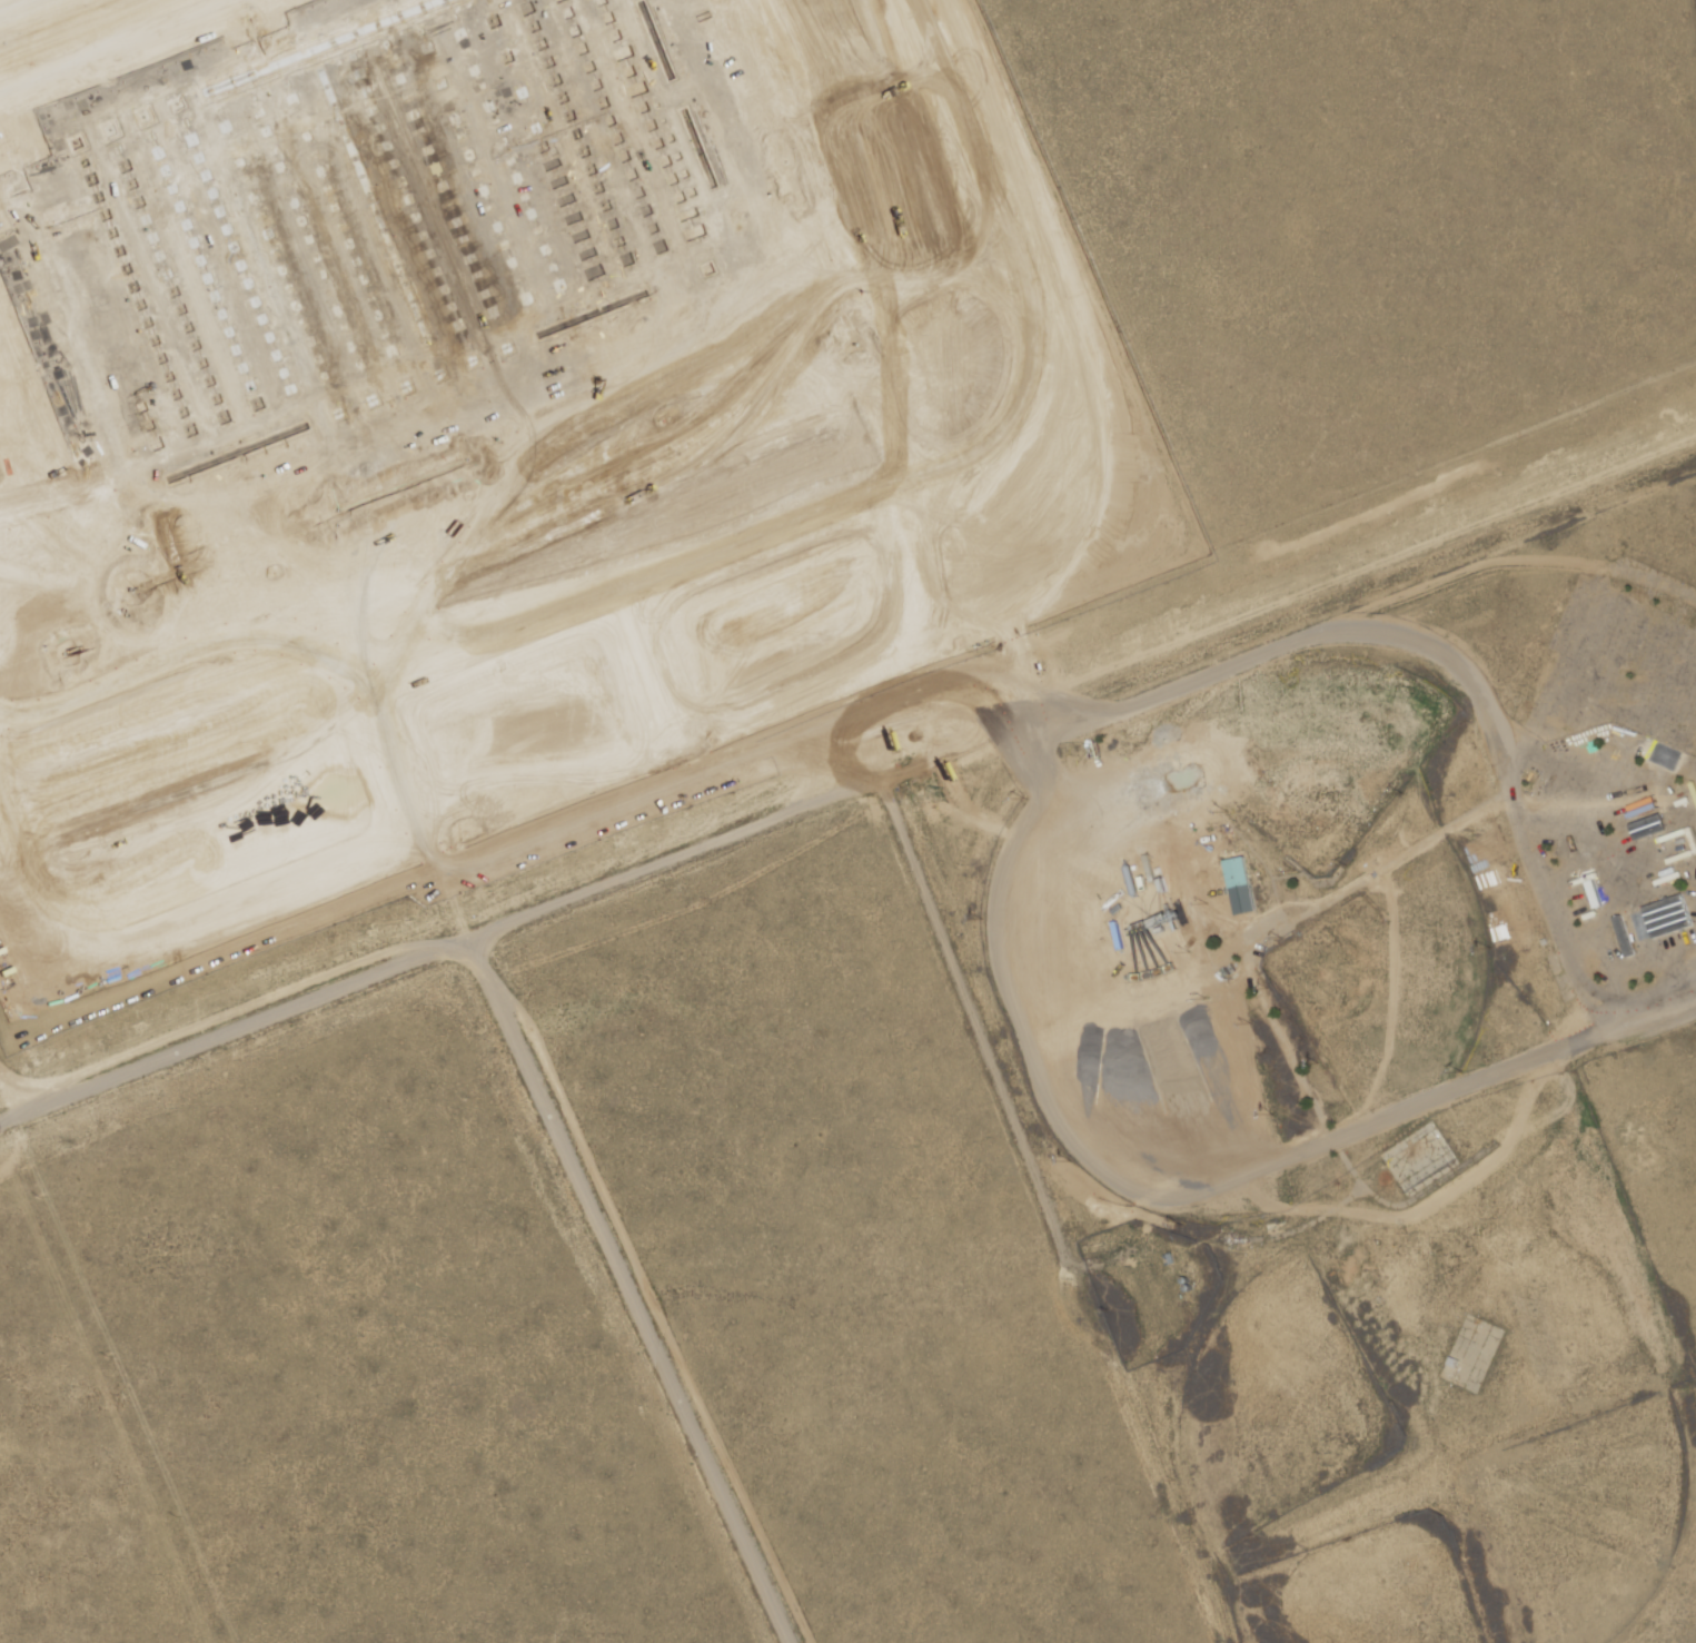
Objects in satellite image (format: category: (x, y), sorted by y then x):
road: (52, 20)
parking lot: (102, 40)
road: (979, 123)
road: (795, 197)
road: (892, 199)
road: (847, 216)
building: (376, 236)
road: (1211, 237)
road: (972, 264)
road: (704, 323)
road: (655, 388)
road: (792, 432)
parking lot: (30, 445)
road: (747, 451)
road: (467, 463)
road: (966, 463)
road: (665, 483)
road: (10, 489)
road: (881, 495)
road: (626, 498)
road: (272, 540)
road: (138, 546)
road: (499, 547)
parking lot: (445, 561)
road: (1191, 587)
road: (374, 596)
road: (335, 613)
road: (430, 671)
road: (1081, 684)
road: (652, 692)
road: (272, 697)
road: (375, 712)
road: (229, 715)
road: (191, 730)
road: (146, 748)
road: (108, 763)
road: (408, 769)
building: (397, 778)
road: (65, 780)
road: (385, 780)
road: (18, 834)
road: (433, 850)
road: (256, 863)
building: (1238, 885)
road: (459, 912)
road: (344, 921)
road: (13, 984)
road: (237, 1037)
road: (1442, 1092)
road: (9, 1102)
road: (636, 1293)
building: (1489, 1344)

